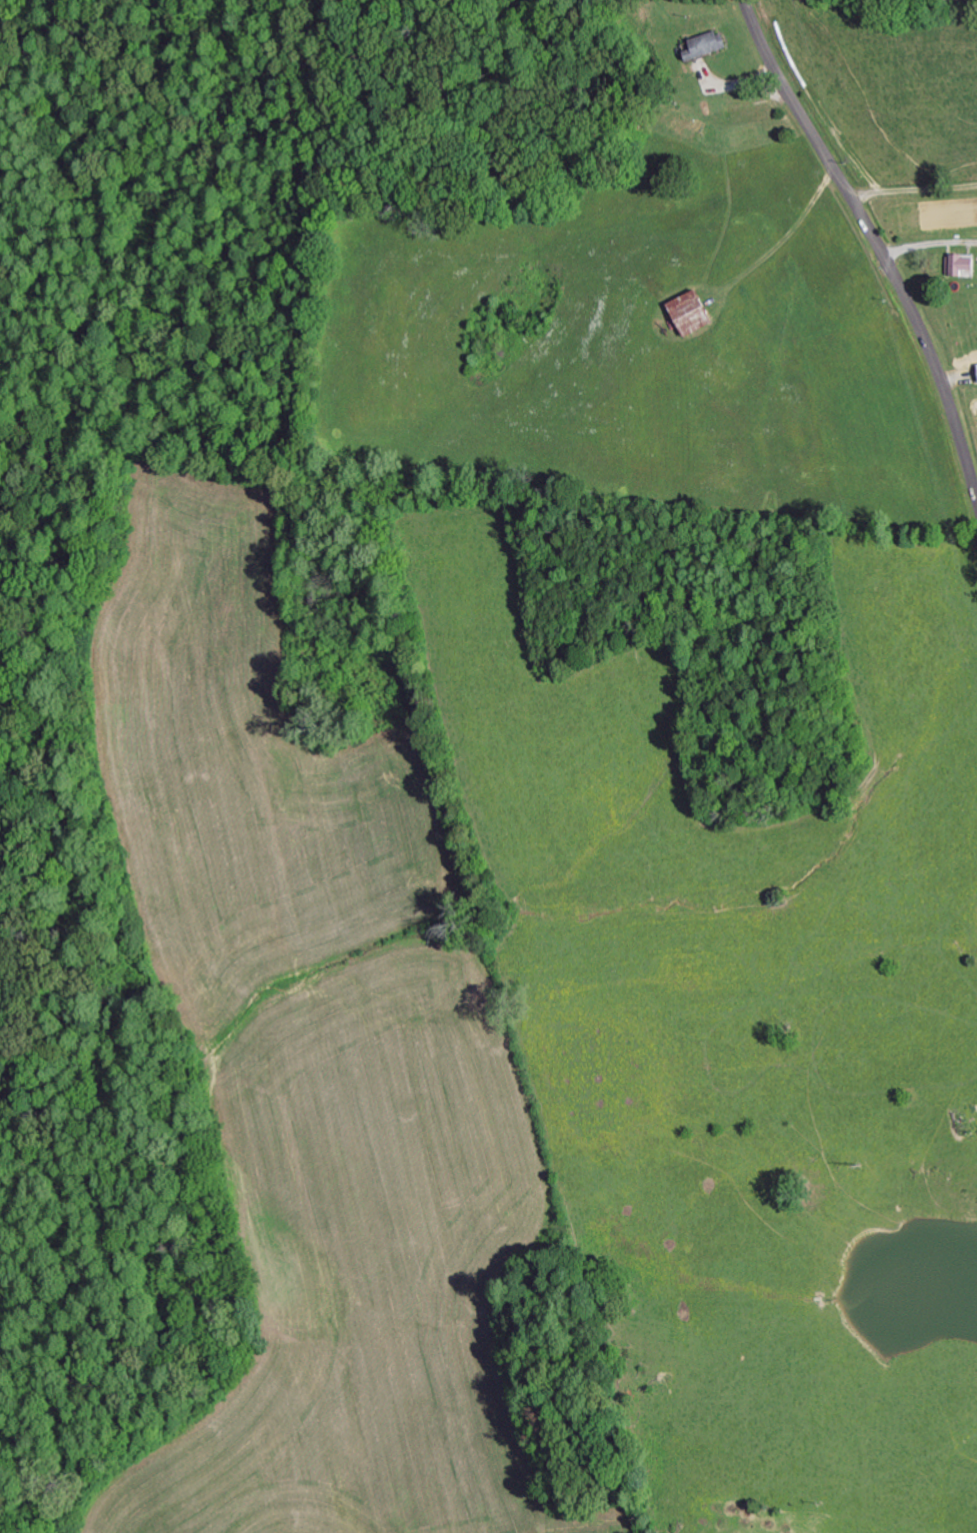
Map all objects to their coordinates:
building: (709, 44)
road: (876, 243)
building: (963, 264)
building: (697, 312)

